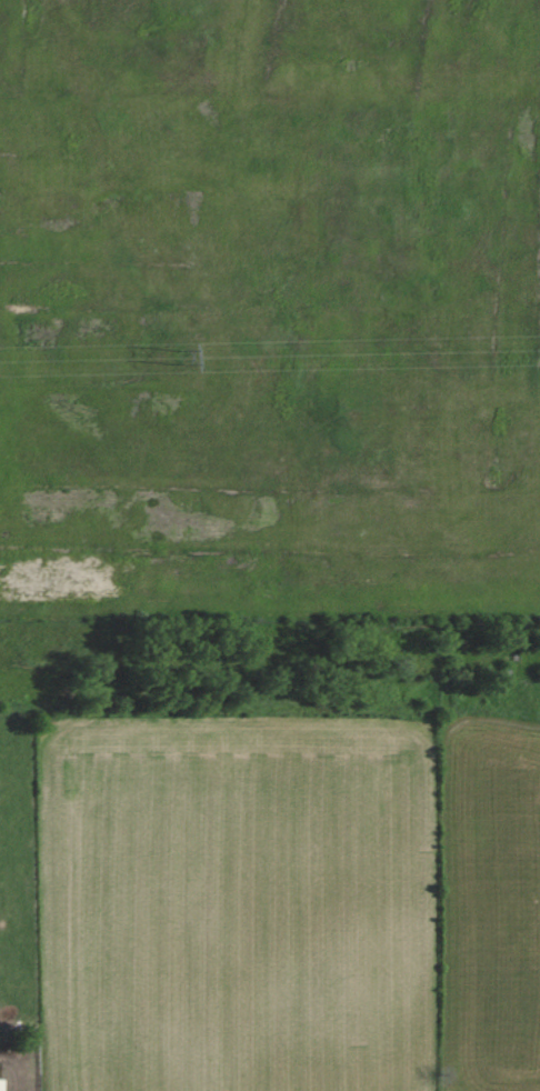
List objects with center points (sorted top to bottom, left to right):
power tower: (180, 354)

